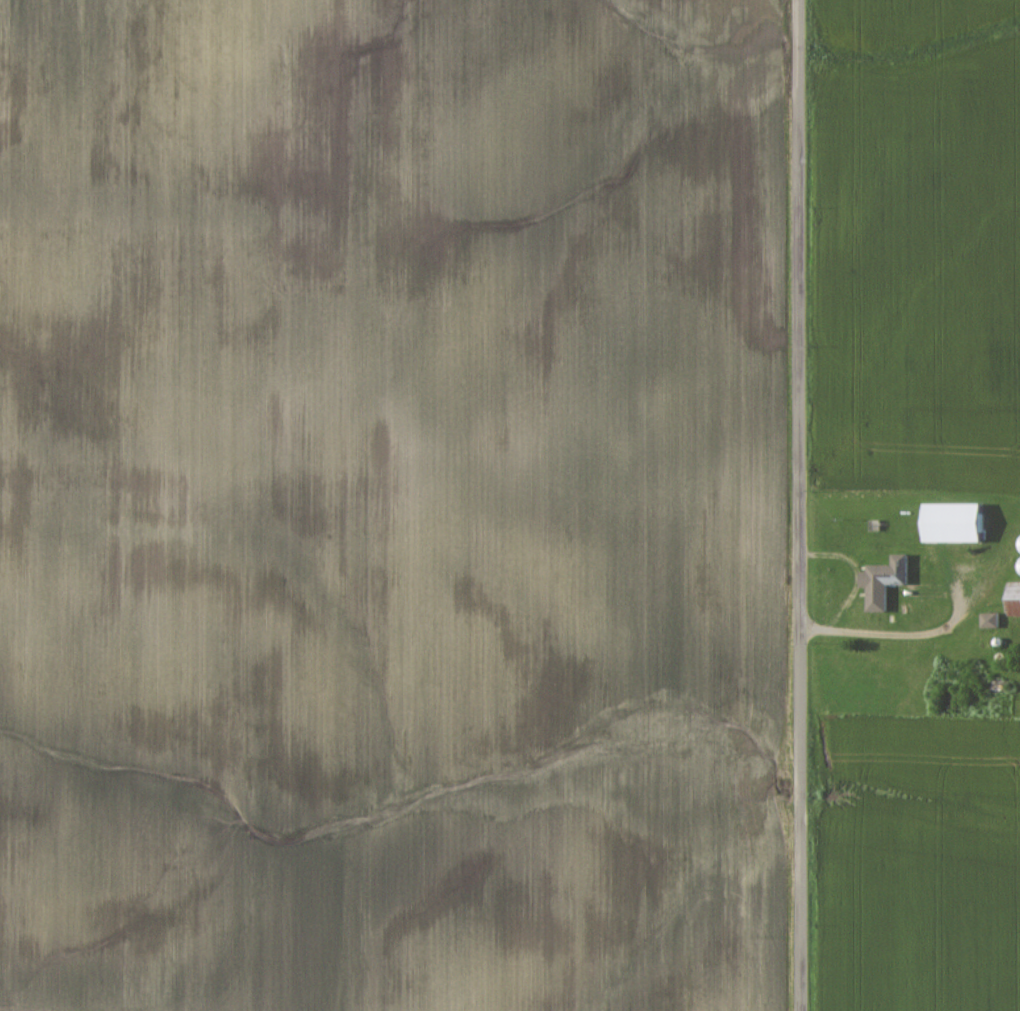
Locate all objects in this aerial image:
road: (802, 505)
building: (960, 524)
road: (859, 575)
building: (889, 582)
building: (1016, 600)
building: (994, 621)
road: (889, 636)

